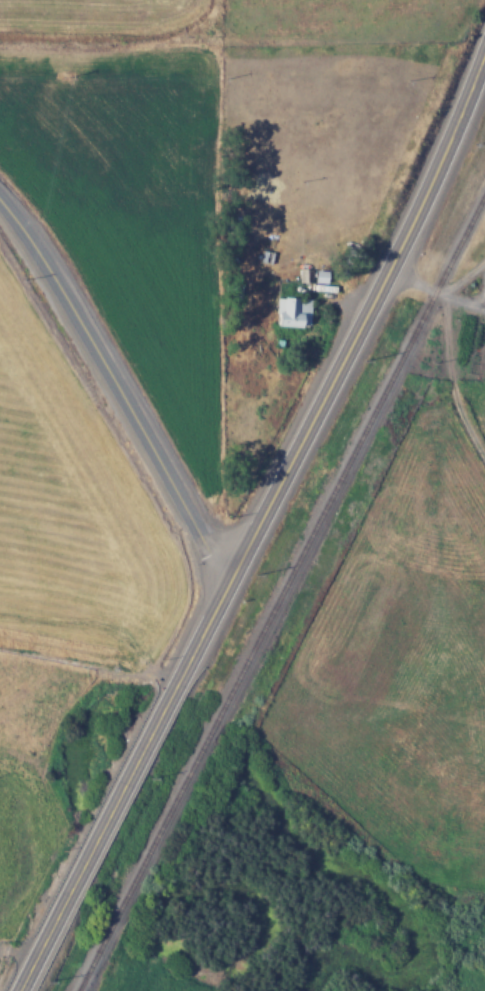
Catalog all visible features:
building: (232, 231)
road: (435, 291)
building: (292, 311)
road: (116, 387)
road: (259, 524)
railway: (278, 592)

